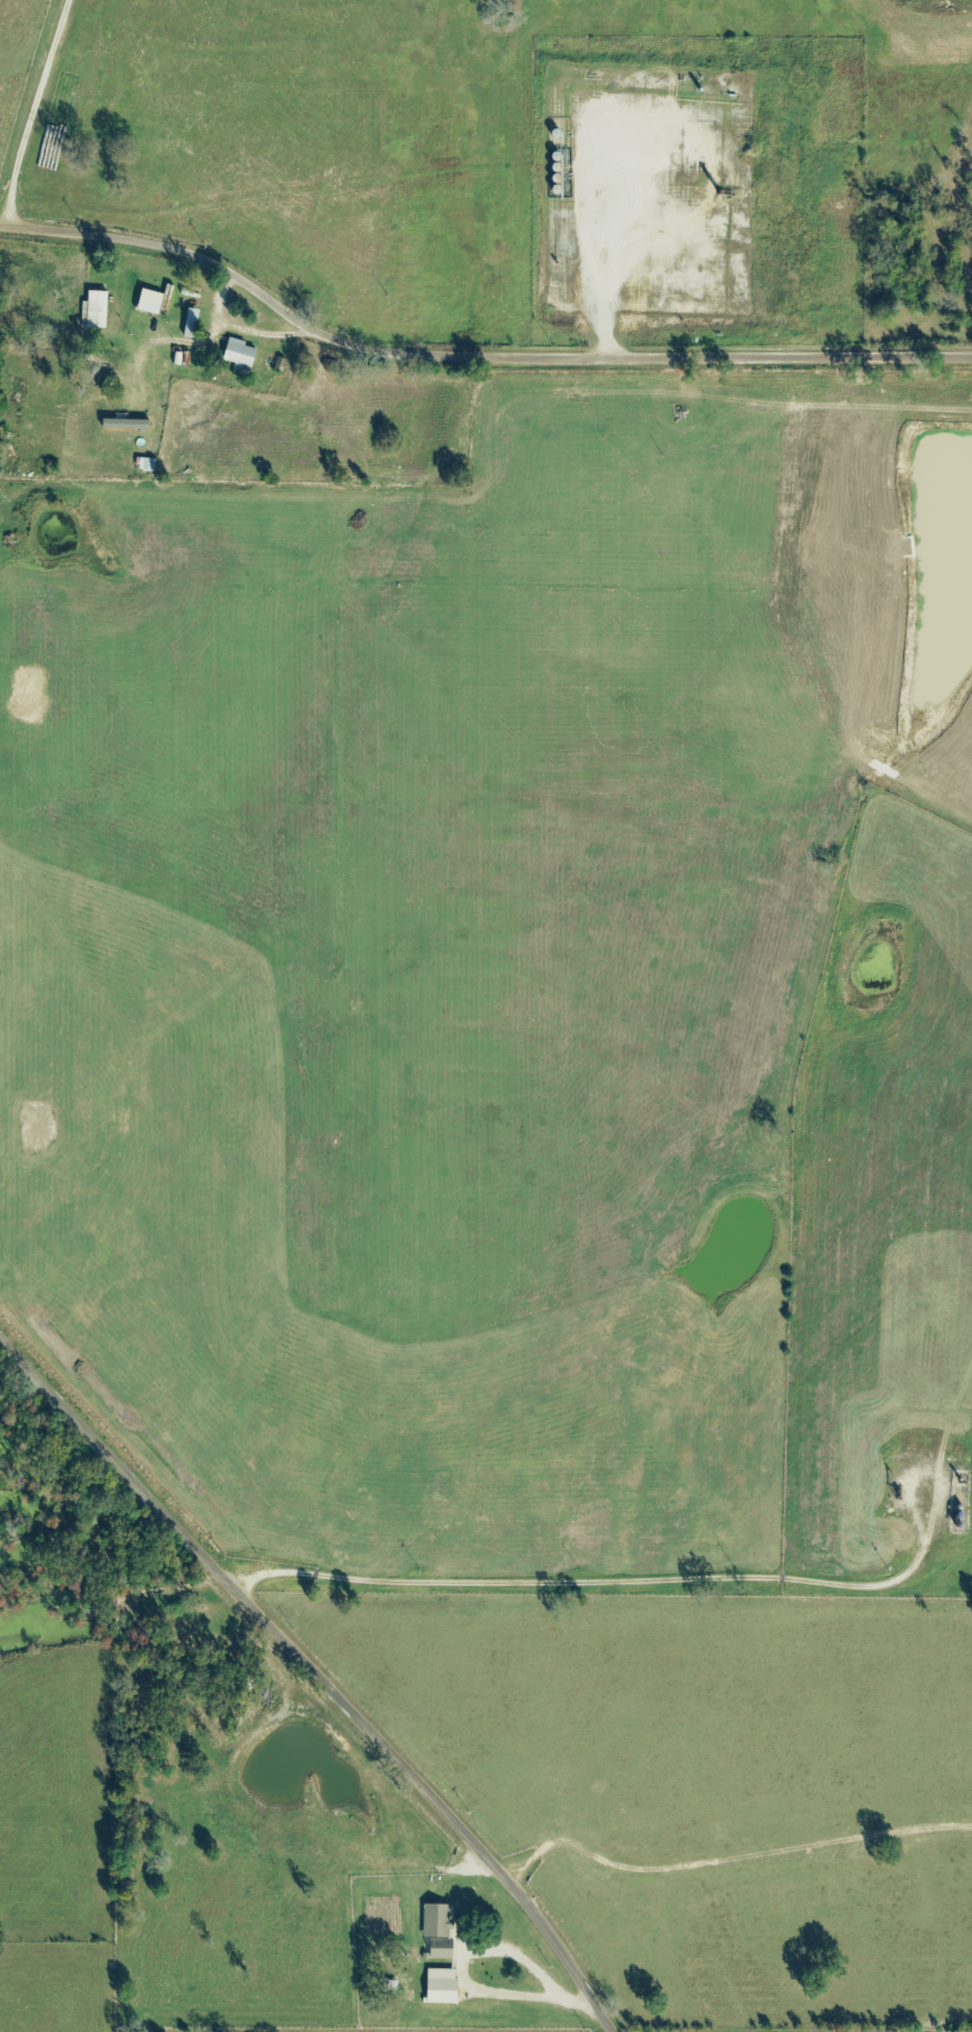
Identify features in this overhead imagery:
building: (154, 303)
building: (97, 312)
building: (244, 355)
road: (472, 355)
building: (130, 426)
building: (148, 466)
road: (320, 1673)
building: (436, 1930)
building: (439, 1987)

